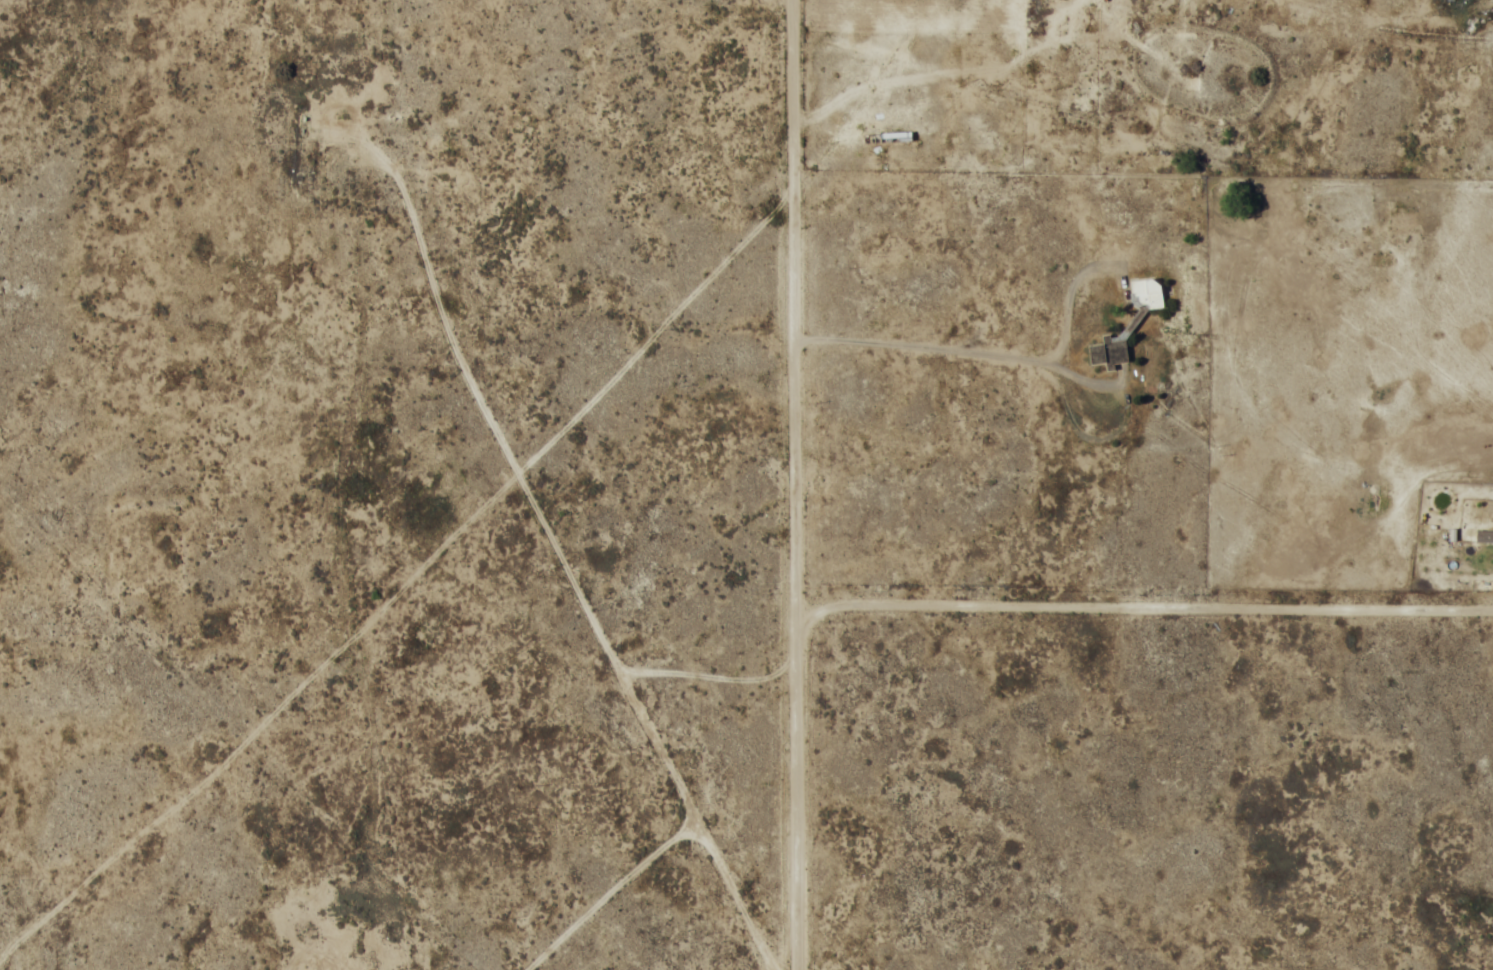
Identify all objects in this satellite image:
road: (599, 59)
road: (204, 213)
road: (10, 280)
building: (1126, 325)
road: (797, 484)
building: (1484, 536)

